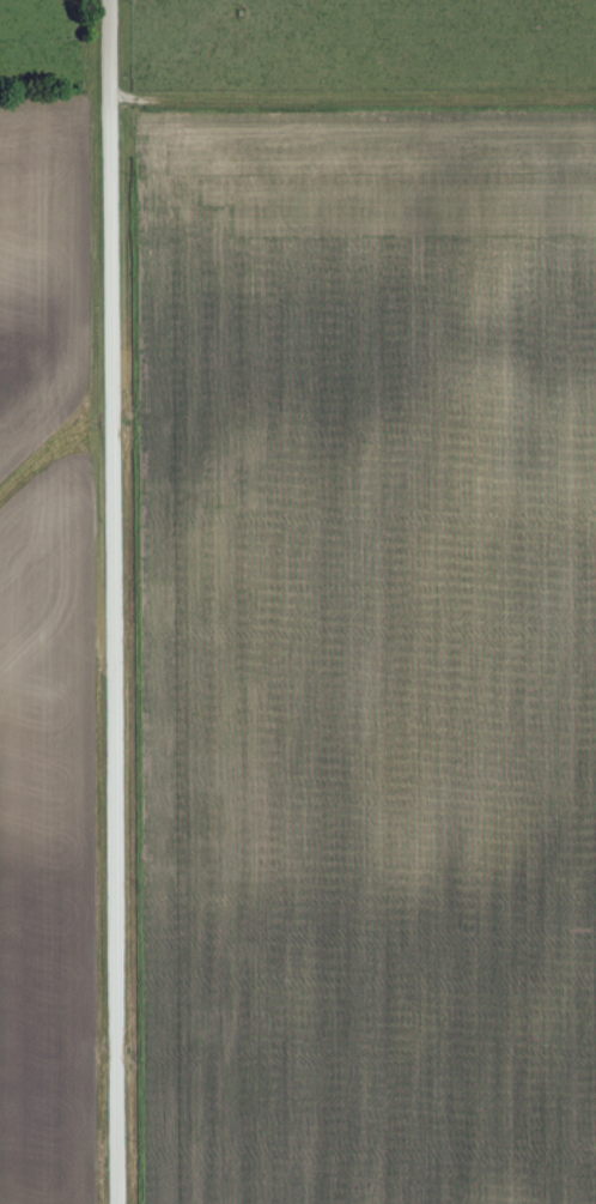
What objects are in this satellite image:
road: (109, 601)

